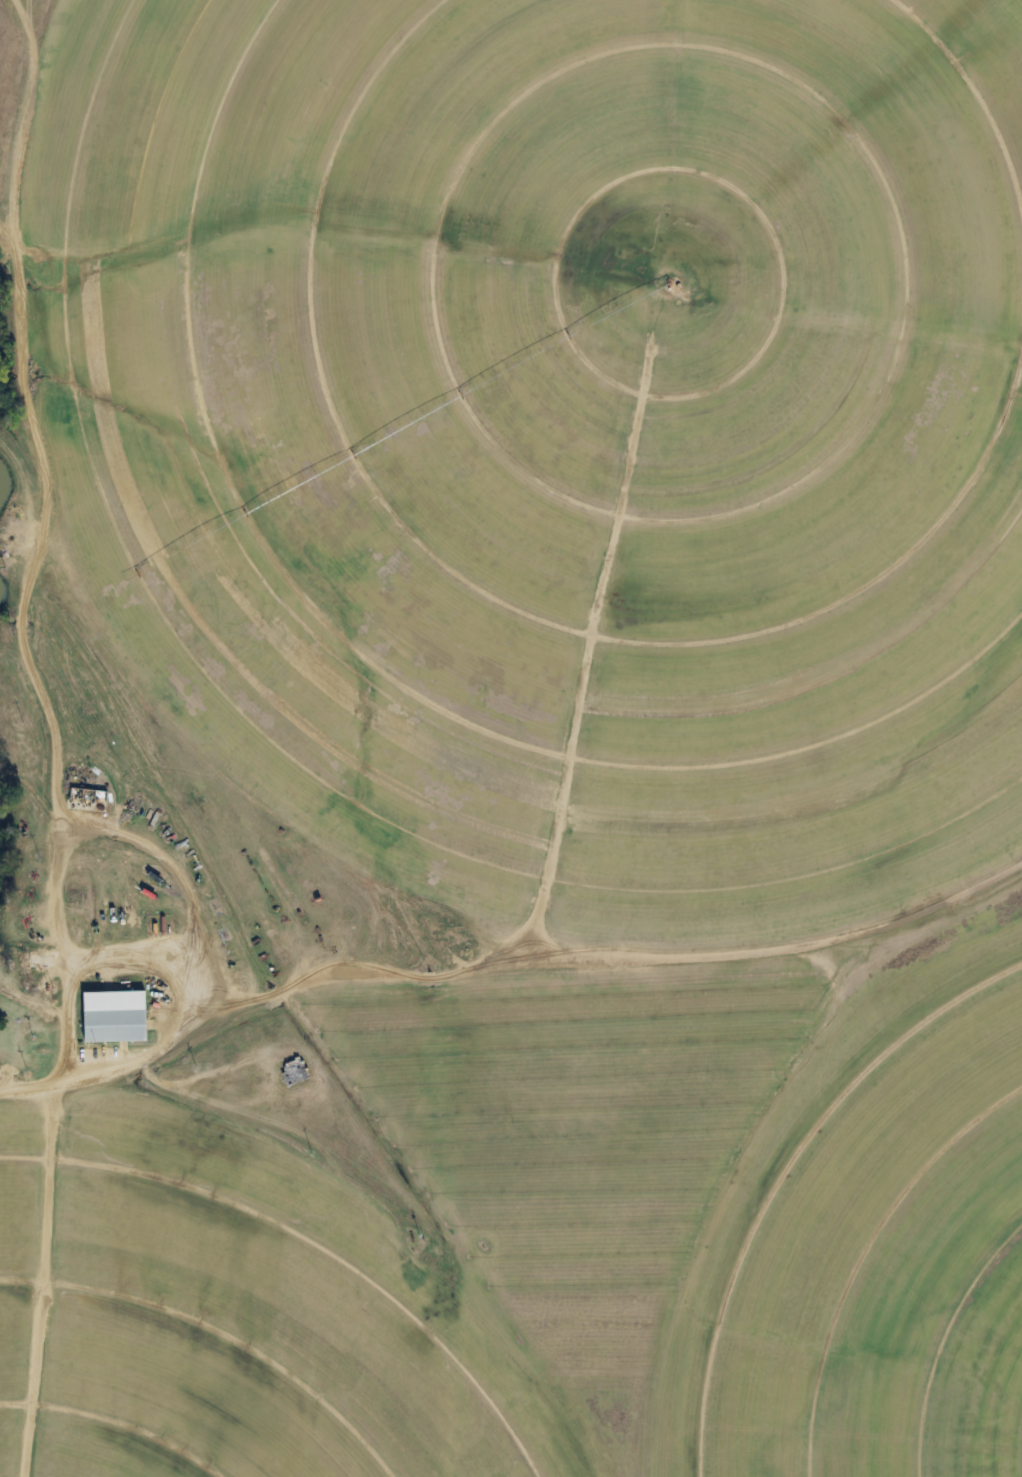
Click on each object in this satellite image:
building: (91, 793)
building: (117, 1015)
road: (32, 1078)

